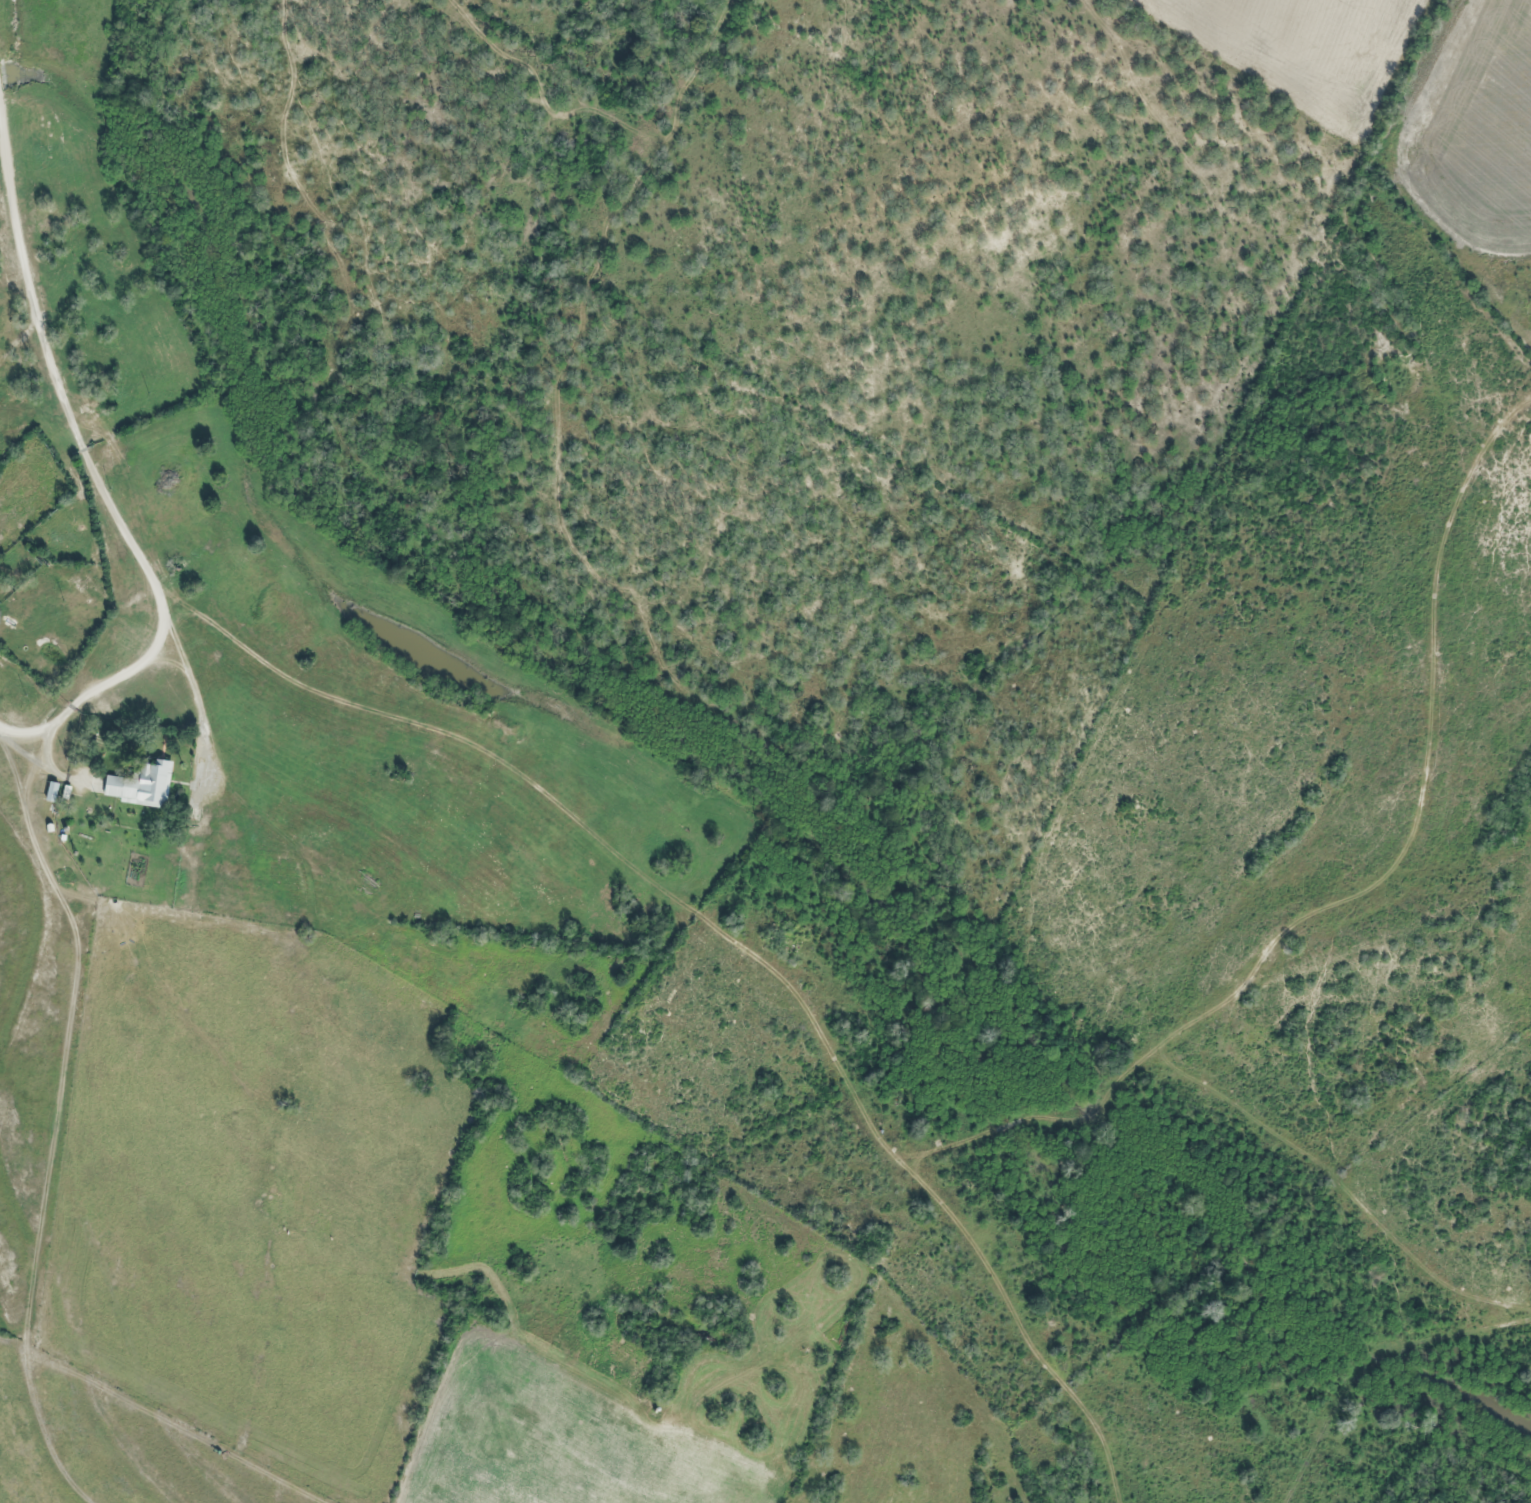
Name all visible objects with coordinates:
road: (27, 289)
road: (166, 620)
road: (1426, 764)
building: (136, 785)
road: (735, 942)
road: (1235, 1076)

